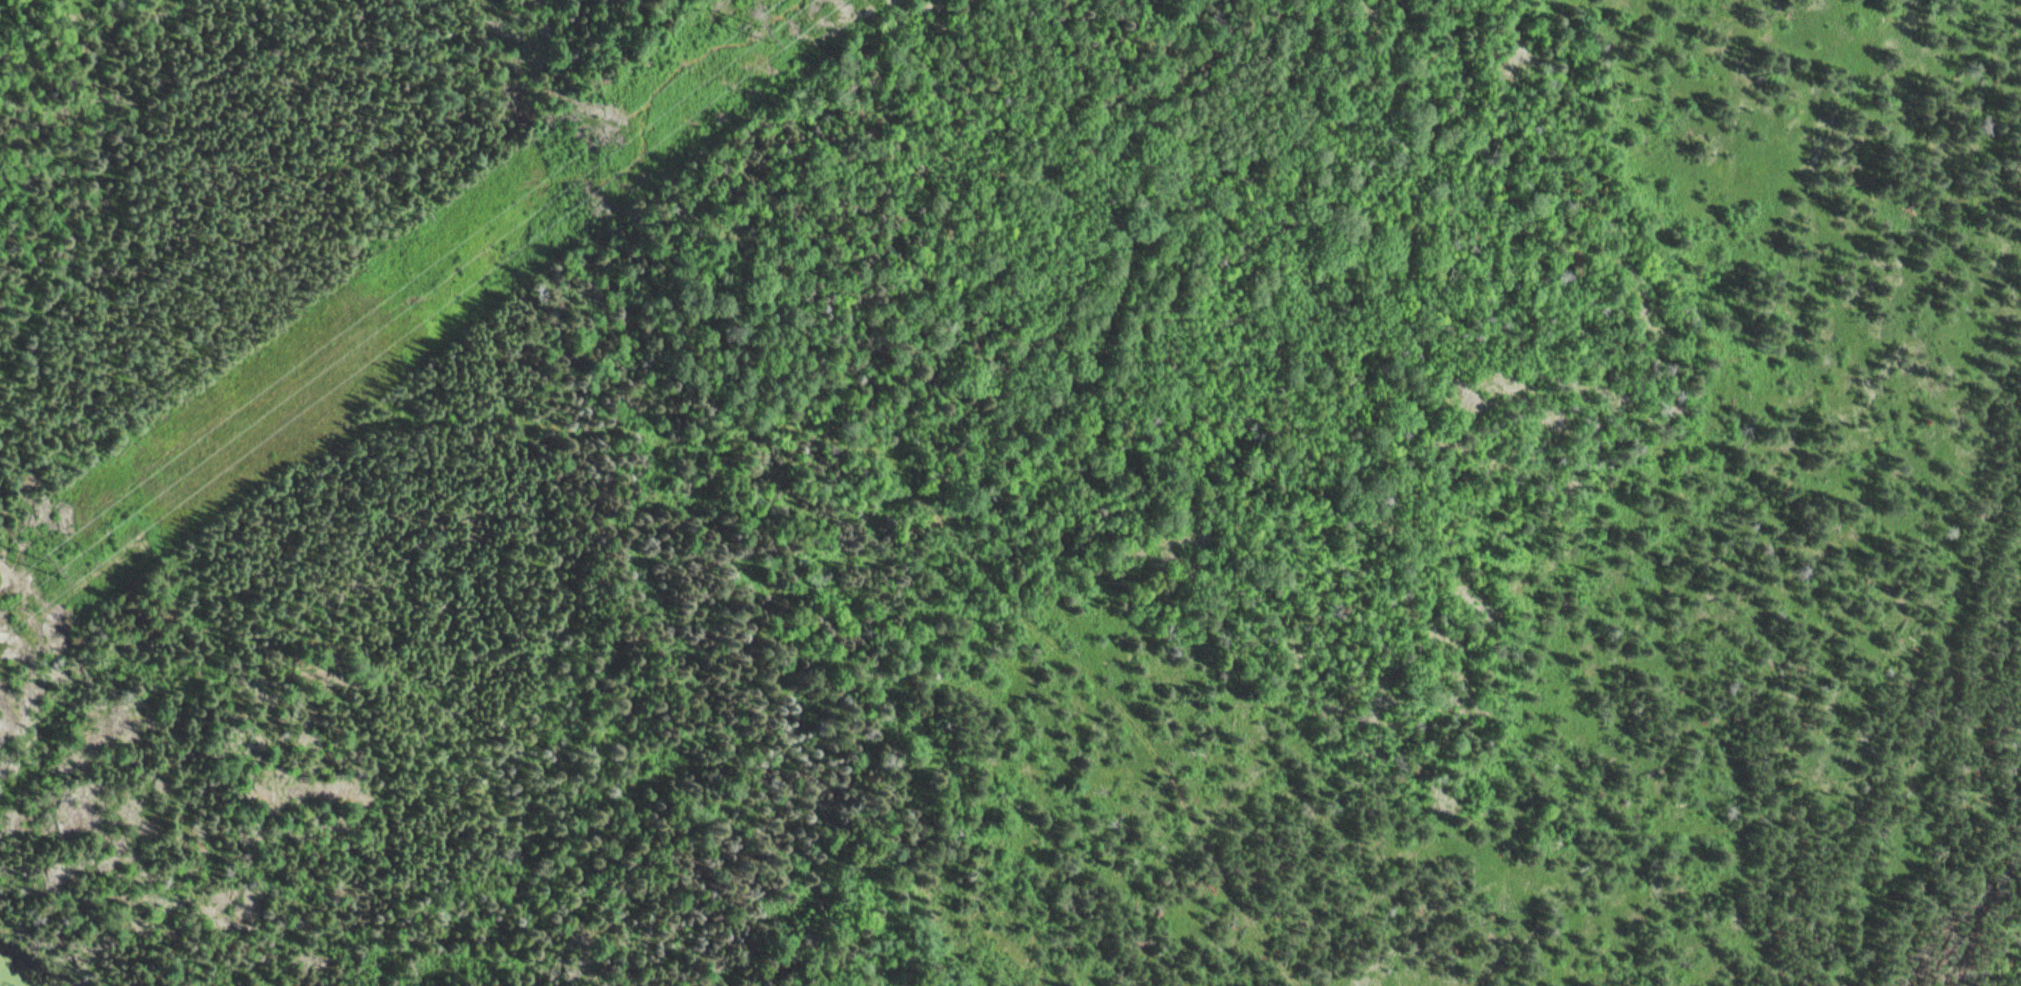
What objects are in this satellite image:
power tower: (764, 31)
power tower: (59, 567)
road: (1256, 907)

